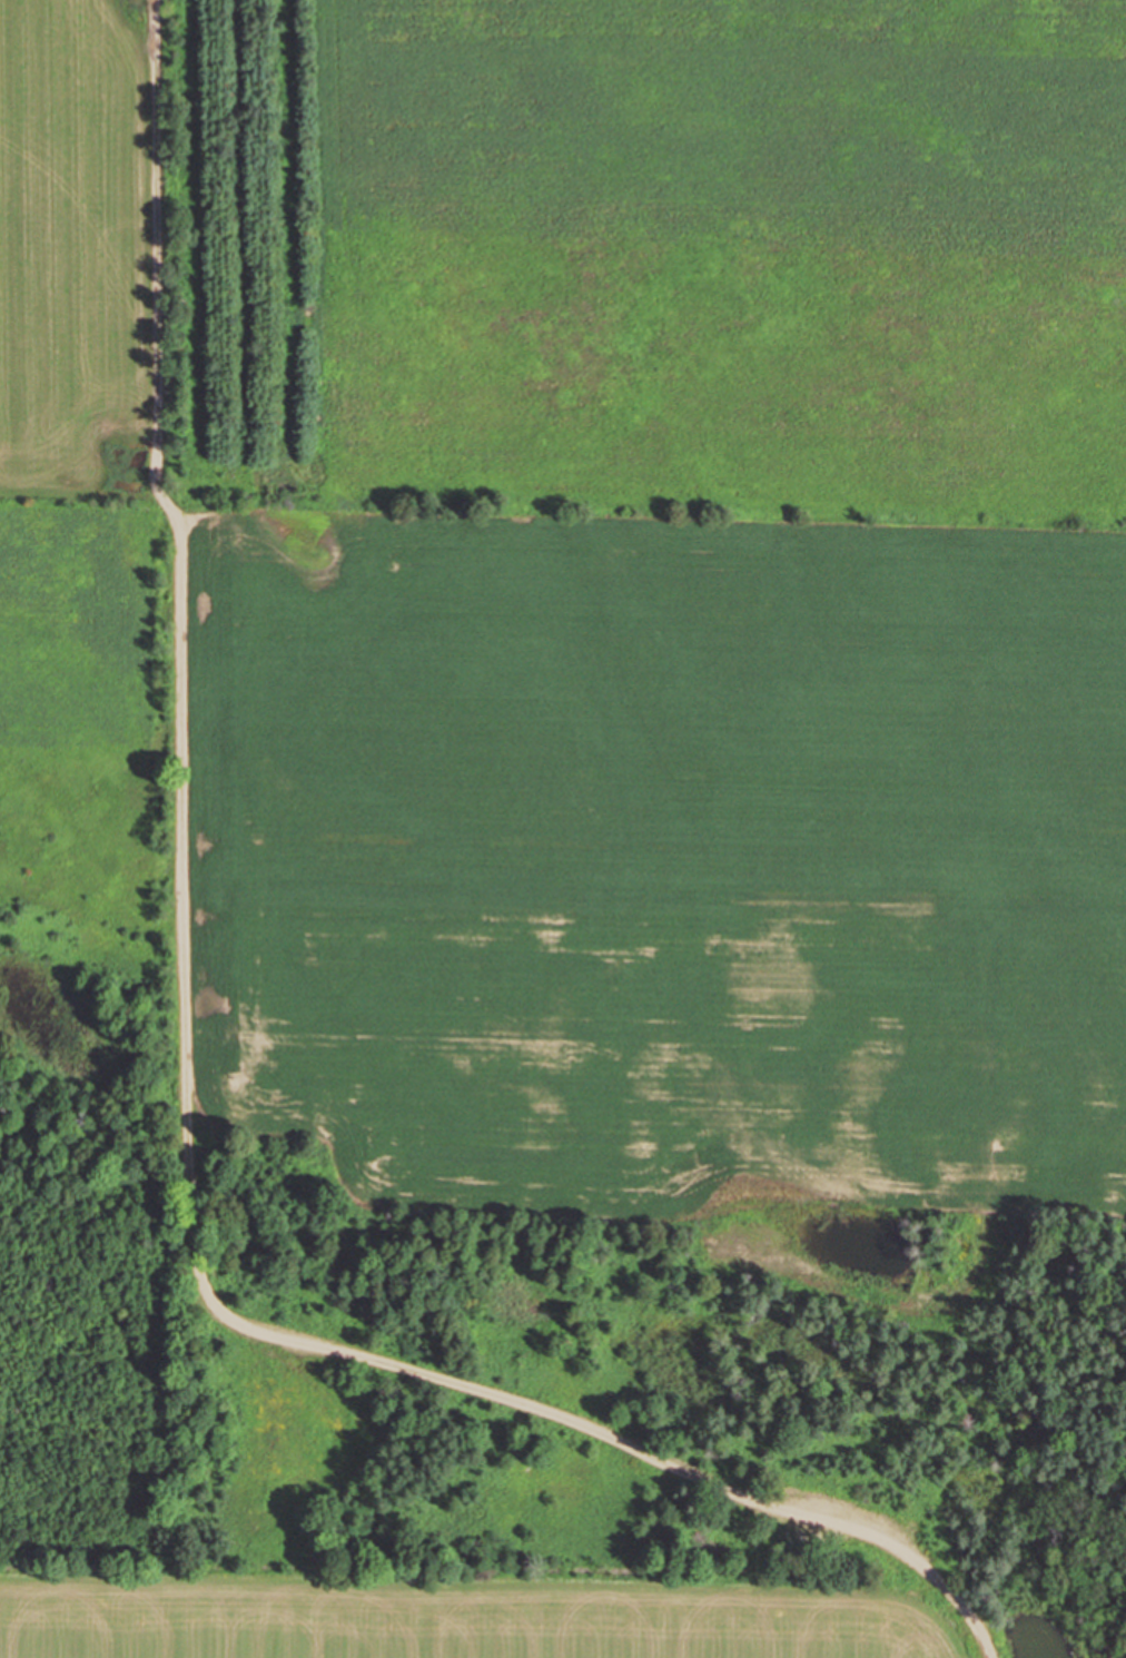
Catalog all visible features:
building: (39, 91)
building: (11, 272)
building: (767, 968)
building: (407, 1006)
building: (284, 1024)
building: (576, 1053)

